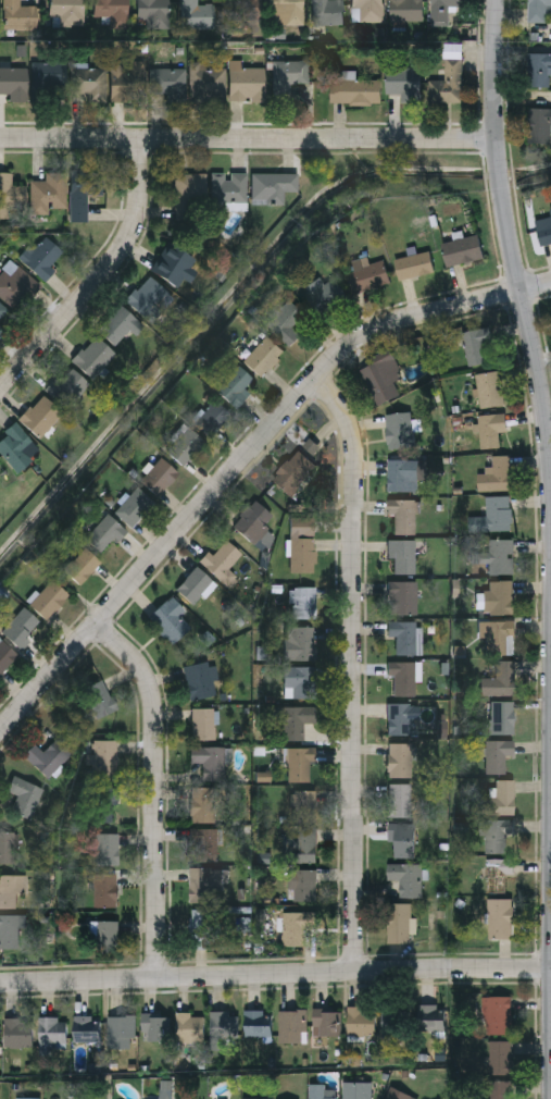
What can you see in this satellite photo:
building: (111, 10)
building: (442, 10)
building: (68, 11)
building: (366, 11)
building: (405, 11)
building: (538, 11)
building: (240, 12)
building: (285, 12)
building: (327, 12)
building: (152, 13)
building: (196, 14)
building: (18, 16)
building: (537, 69)
building: (49, 74)
building: (288, 77)
building: (448, 79)
building: (206, 81)
building: (90, 82)
building: (124, 82)
building: (246, 82)
building: (14, 83)
building: (170, 83)
building: (403, 83)
building: (354, 92)
building: (538, 125)
road: (247, 138)
building: (272, 185)
building: (84, 188)
building: (229, 188)
building: (11, 190)
building: (50, 190)
building: (190, 194)
building: (550, 211)
building: (543, 235)
building: (463, 249)
road: (511, 251)
building: (42, 255)
building: (171, 261)
building: (414, 264)
road: (100, 273)
building: (367, 273)
building: (17, 284)
building: (324, 293)
building: (148, 295)
building: (285, 322)
building: (120, 323)
building: (476, 344)
building: (263, 354)
building: (93, 355)
building: (381, 375)
building: (66, 384)
building: (236, 384)
building: (489, 388)
building: (40, 413)
building: (212, 416)
building: (399, 429)
building: (491, 430)
building: (185, 444)
building: (18, 446)
road: (242, 458)
building: (293, 470)
building: (399, 473)
building: (496, 473)
building: (159, 474)
building: (134, 504)
building: (402, 514)
building: (496, 514)
building: (252, 518)
building: (105, 531)
building: (302, 543)
building: (402, 553)
building: (500, 555)
building: (223, 558)
building: (82, 564)
building: (198, 583)
building: (403, 595)
building: (499, 595)
building: (48, 597)
building: (304, 601)
building: (170, 620)
building: (20, 626)
building: (404, 633)
building: (500, 635)
building: (299, 642)
building: (5, 654)
road: (355, 669)
building: (402, 677)
building: (199, 678)
building: (500, 678)
building: (299, 679)
building: (99, 700)
building: (502, 715)
building: (401, 716)
building: (296, 719)
building: (203, 721)
building: (498, 753)
building: (47, 754)
building: (104, 756)
building: (400, 757)
building: (210, 758)
building: (299, 761)
road: (156, 789)
building: (24, 793)
building: (501, 795)
building: (400, 798)
building: (102, 801)
building: (203, 803)
building: (304, 804)
building: (494, 833)
building: (402, 838)
building: (302, 842)
building: (203, 843)
building: (8, 845)
building: (107, 847)
building: (498, 873)
building: (406, 876)
building: (201, 884)
building: (303, 885)
building: (104, 888)
building: (8, 889)
building: (500, 916)
building: (399, 922)
building: (296, 925)
building: (201, 927)
building: (11, 929)
building: (109, 935)
road: (275, 975)
building: (497, 1014)
building: (430, 1017)
building: (361, 1020)
building: (326, 1021)
building: (258, 1024)
building: (395, 1024)
building: (224, 1025)
building: (293, 1025)
building: (156, 1026)
building: (190, 1026)
building: (87, 1027)
building: (52, 1029)
building: (121, 1030)
building: (18, 1032)
building: (500, 1057)
building: (356, 1089)
building: (501, 1089)
building: (318, 1091)
building: (398, 1094)
building: (25, 1098)
building: (255, 1098)

